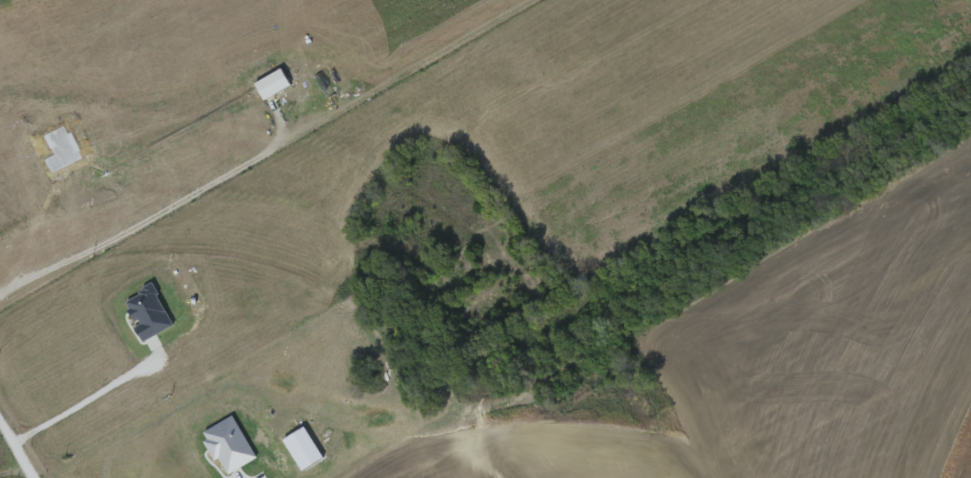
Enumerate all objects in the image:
road: (157, 204)
road: (89, 397)
road: (21, 441)

